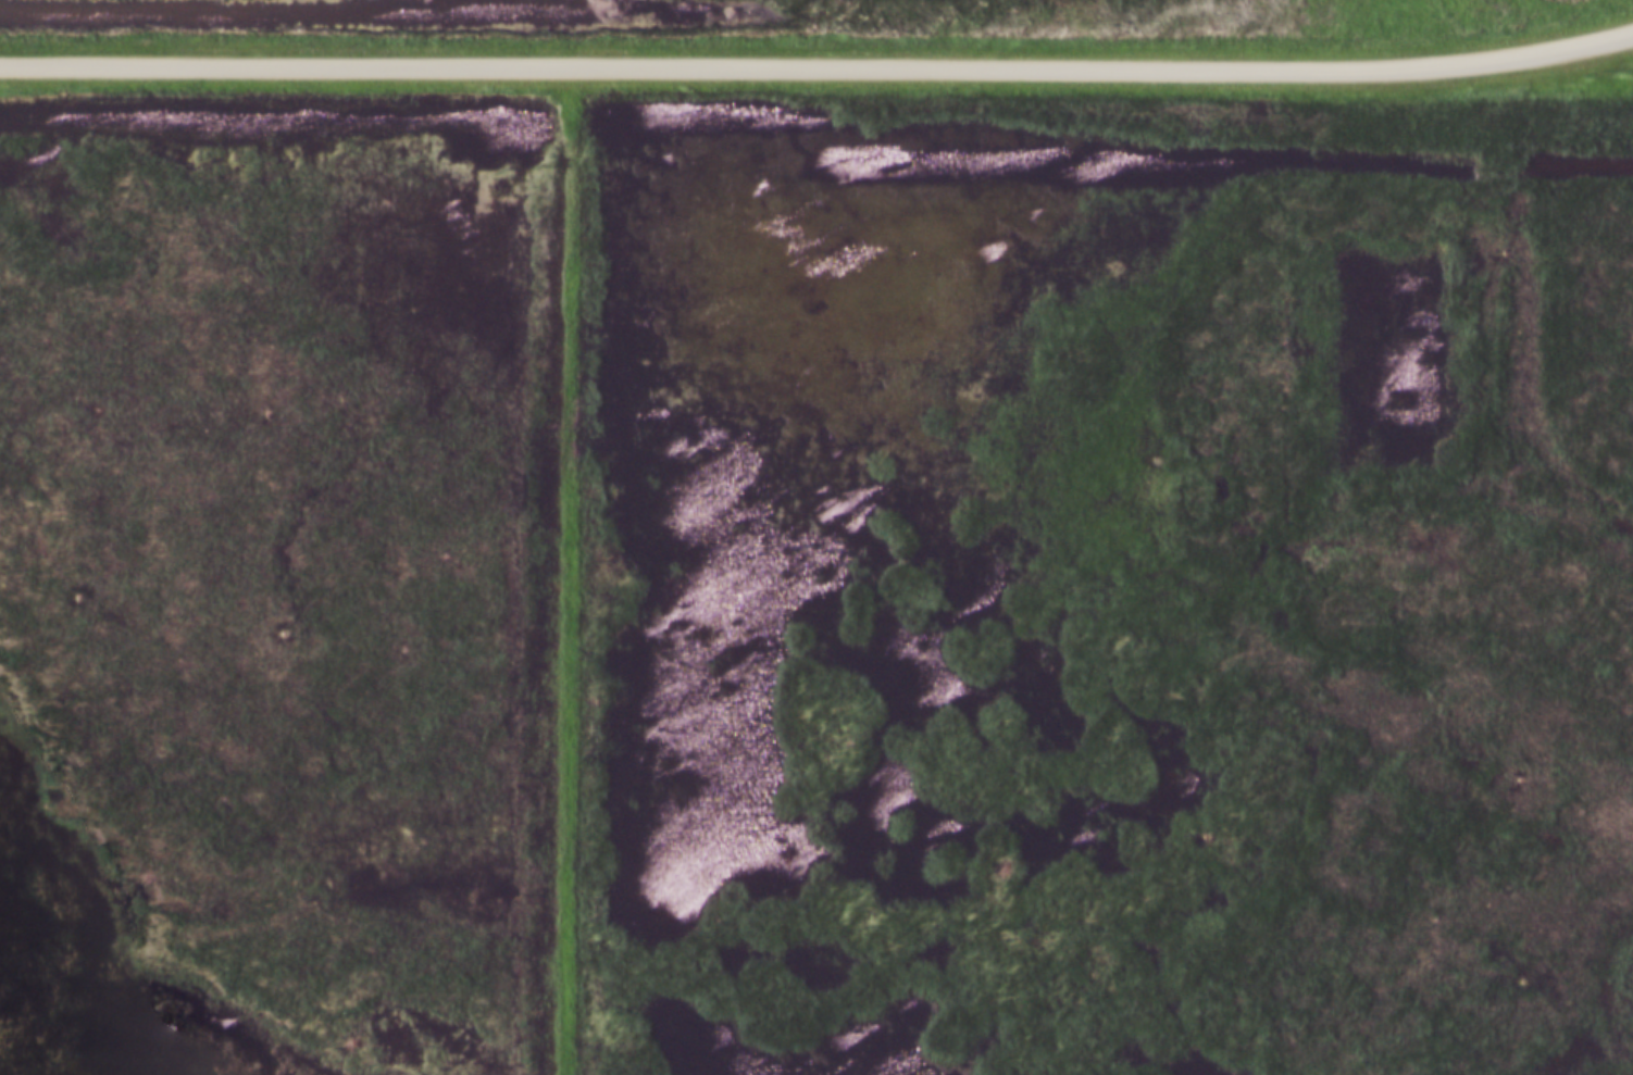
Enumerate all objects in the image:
road: (818, 65)
road: (565, 570)

